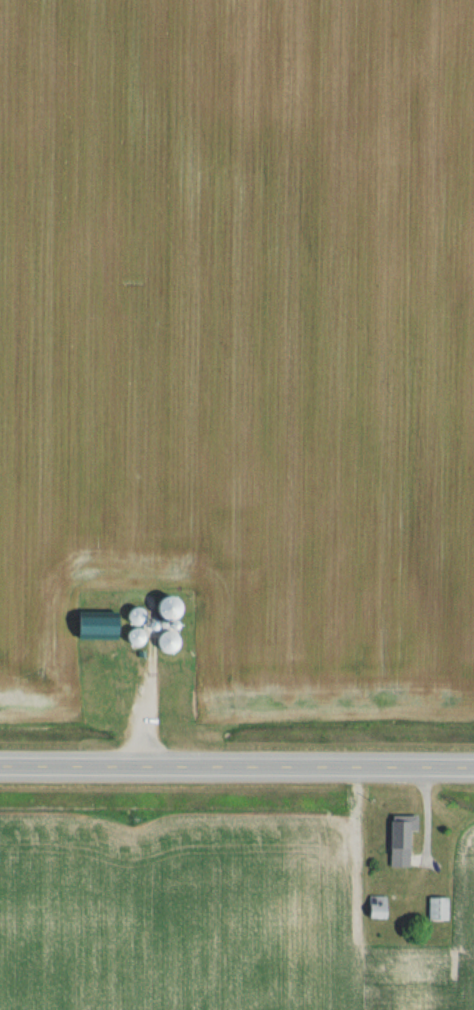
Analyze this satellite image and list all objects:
building: (161, 611)
building: (130, 618)
building: (92, 626)
building: (129, 638)
building: (164, 643)
road: (147, 712)
road: (236, 768)
building: (397, 841)
building: (374, 908)
building: (436, 909)

